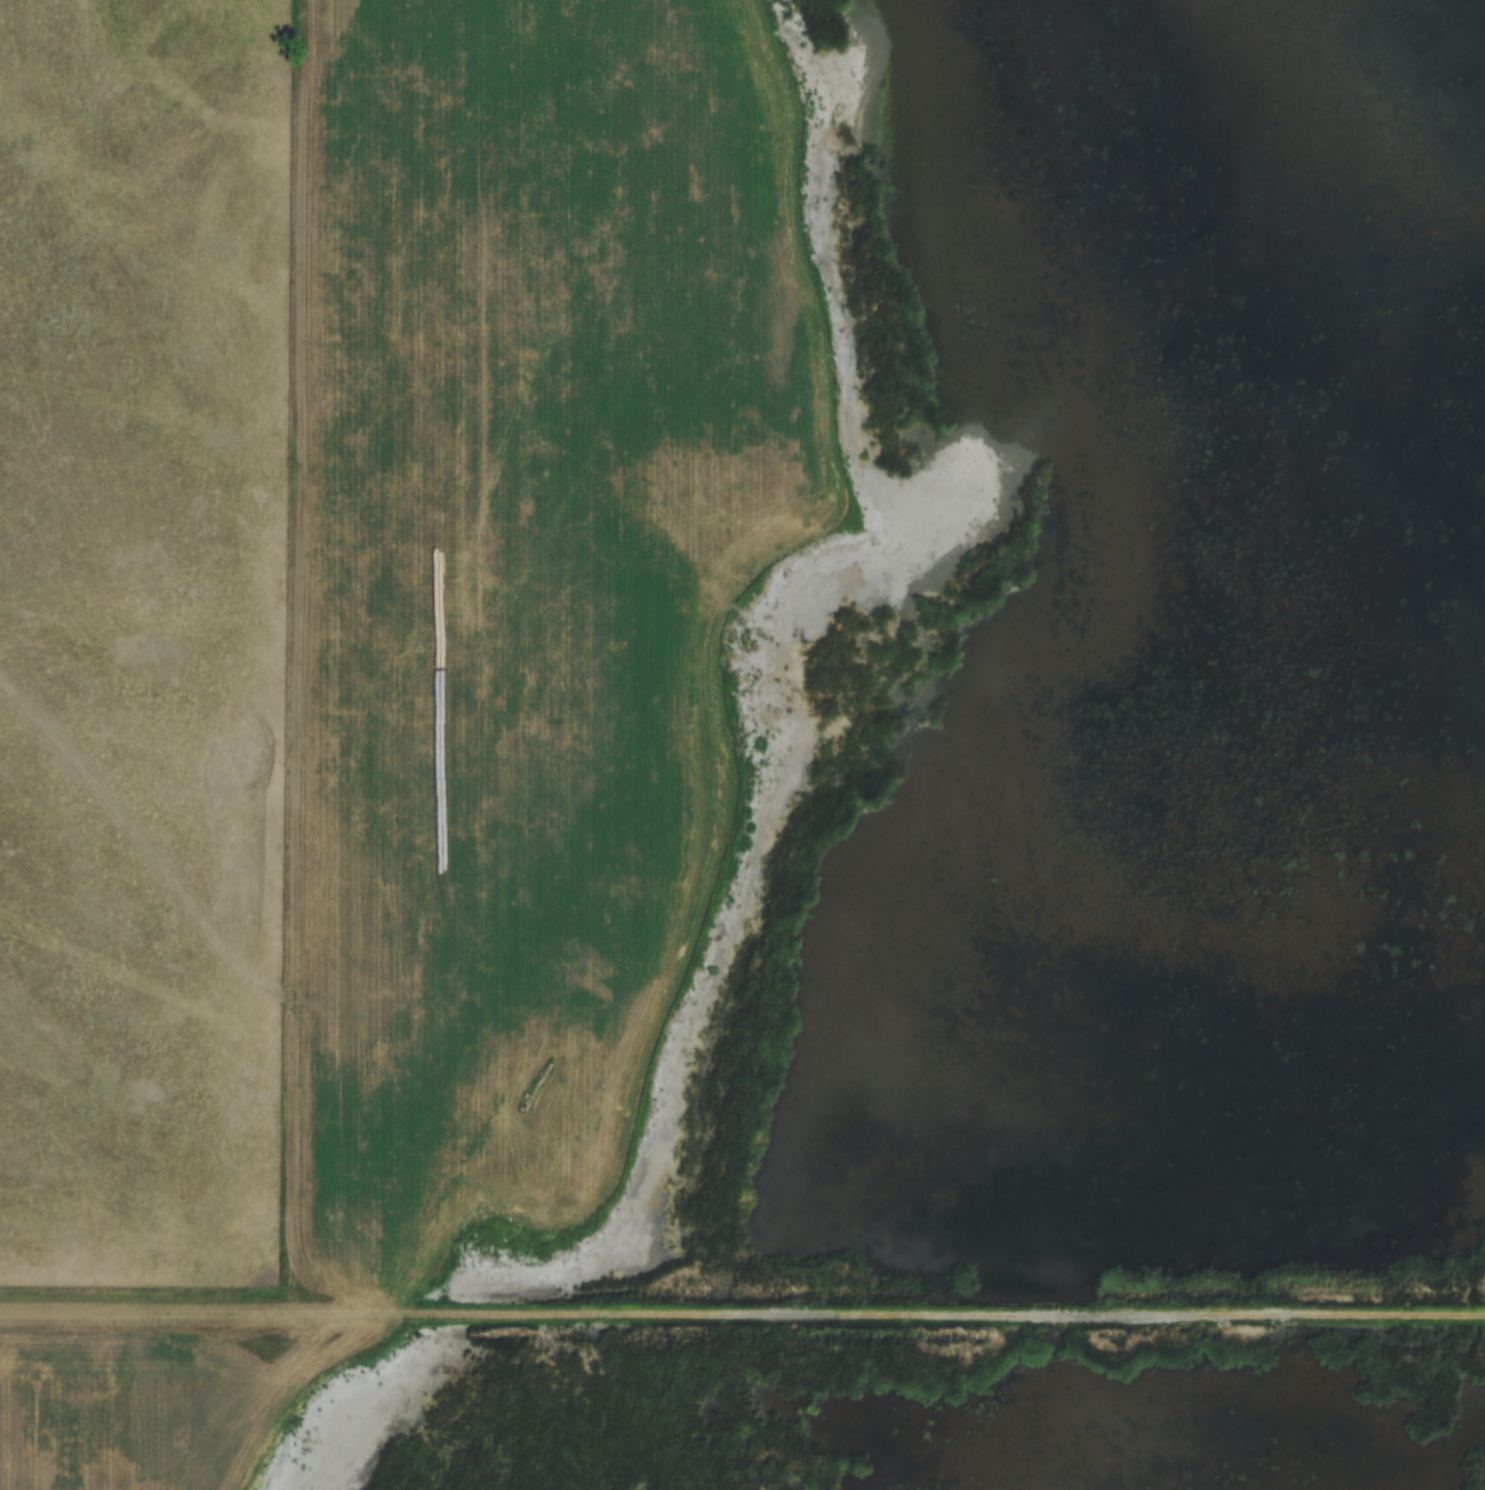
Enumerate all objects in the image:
road: (304, 655)
road: (148, 846)
road: (742, 1311)

